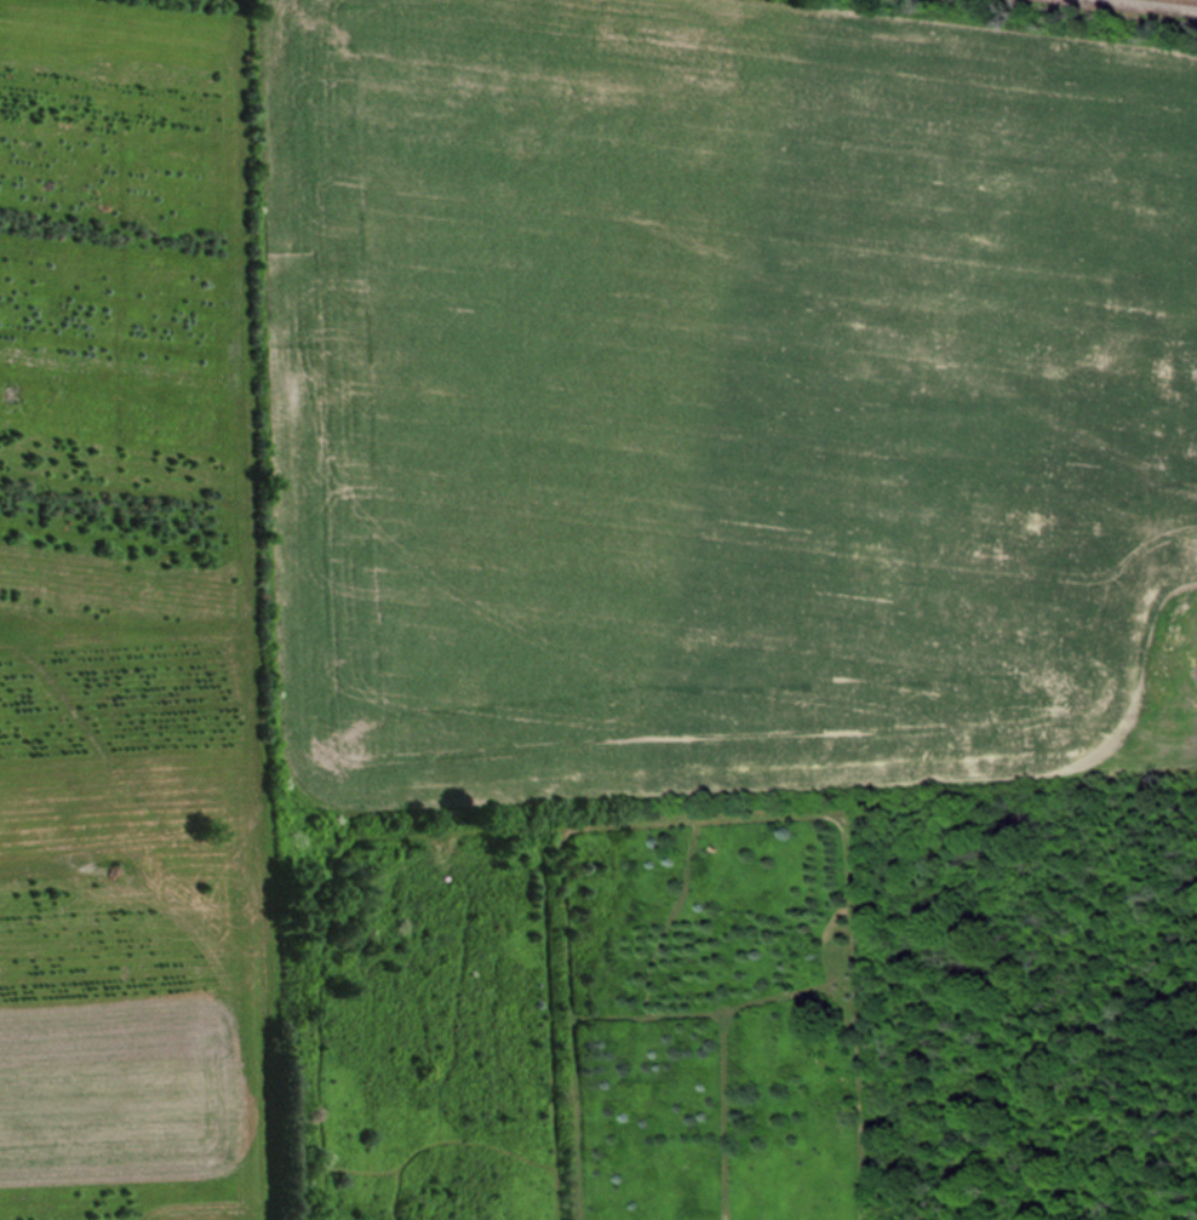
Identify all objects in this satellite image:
railway: (1195, 0)

